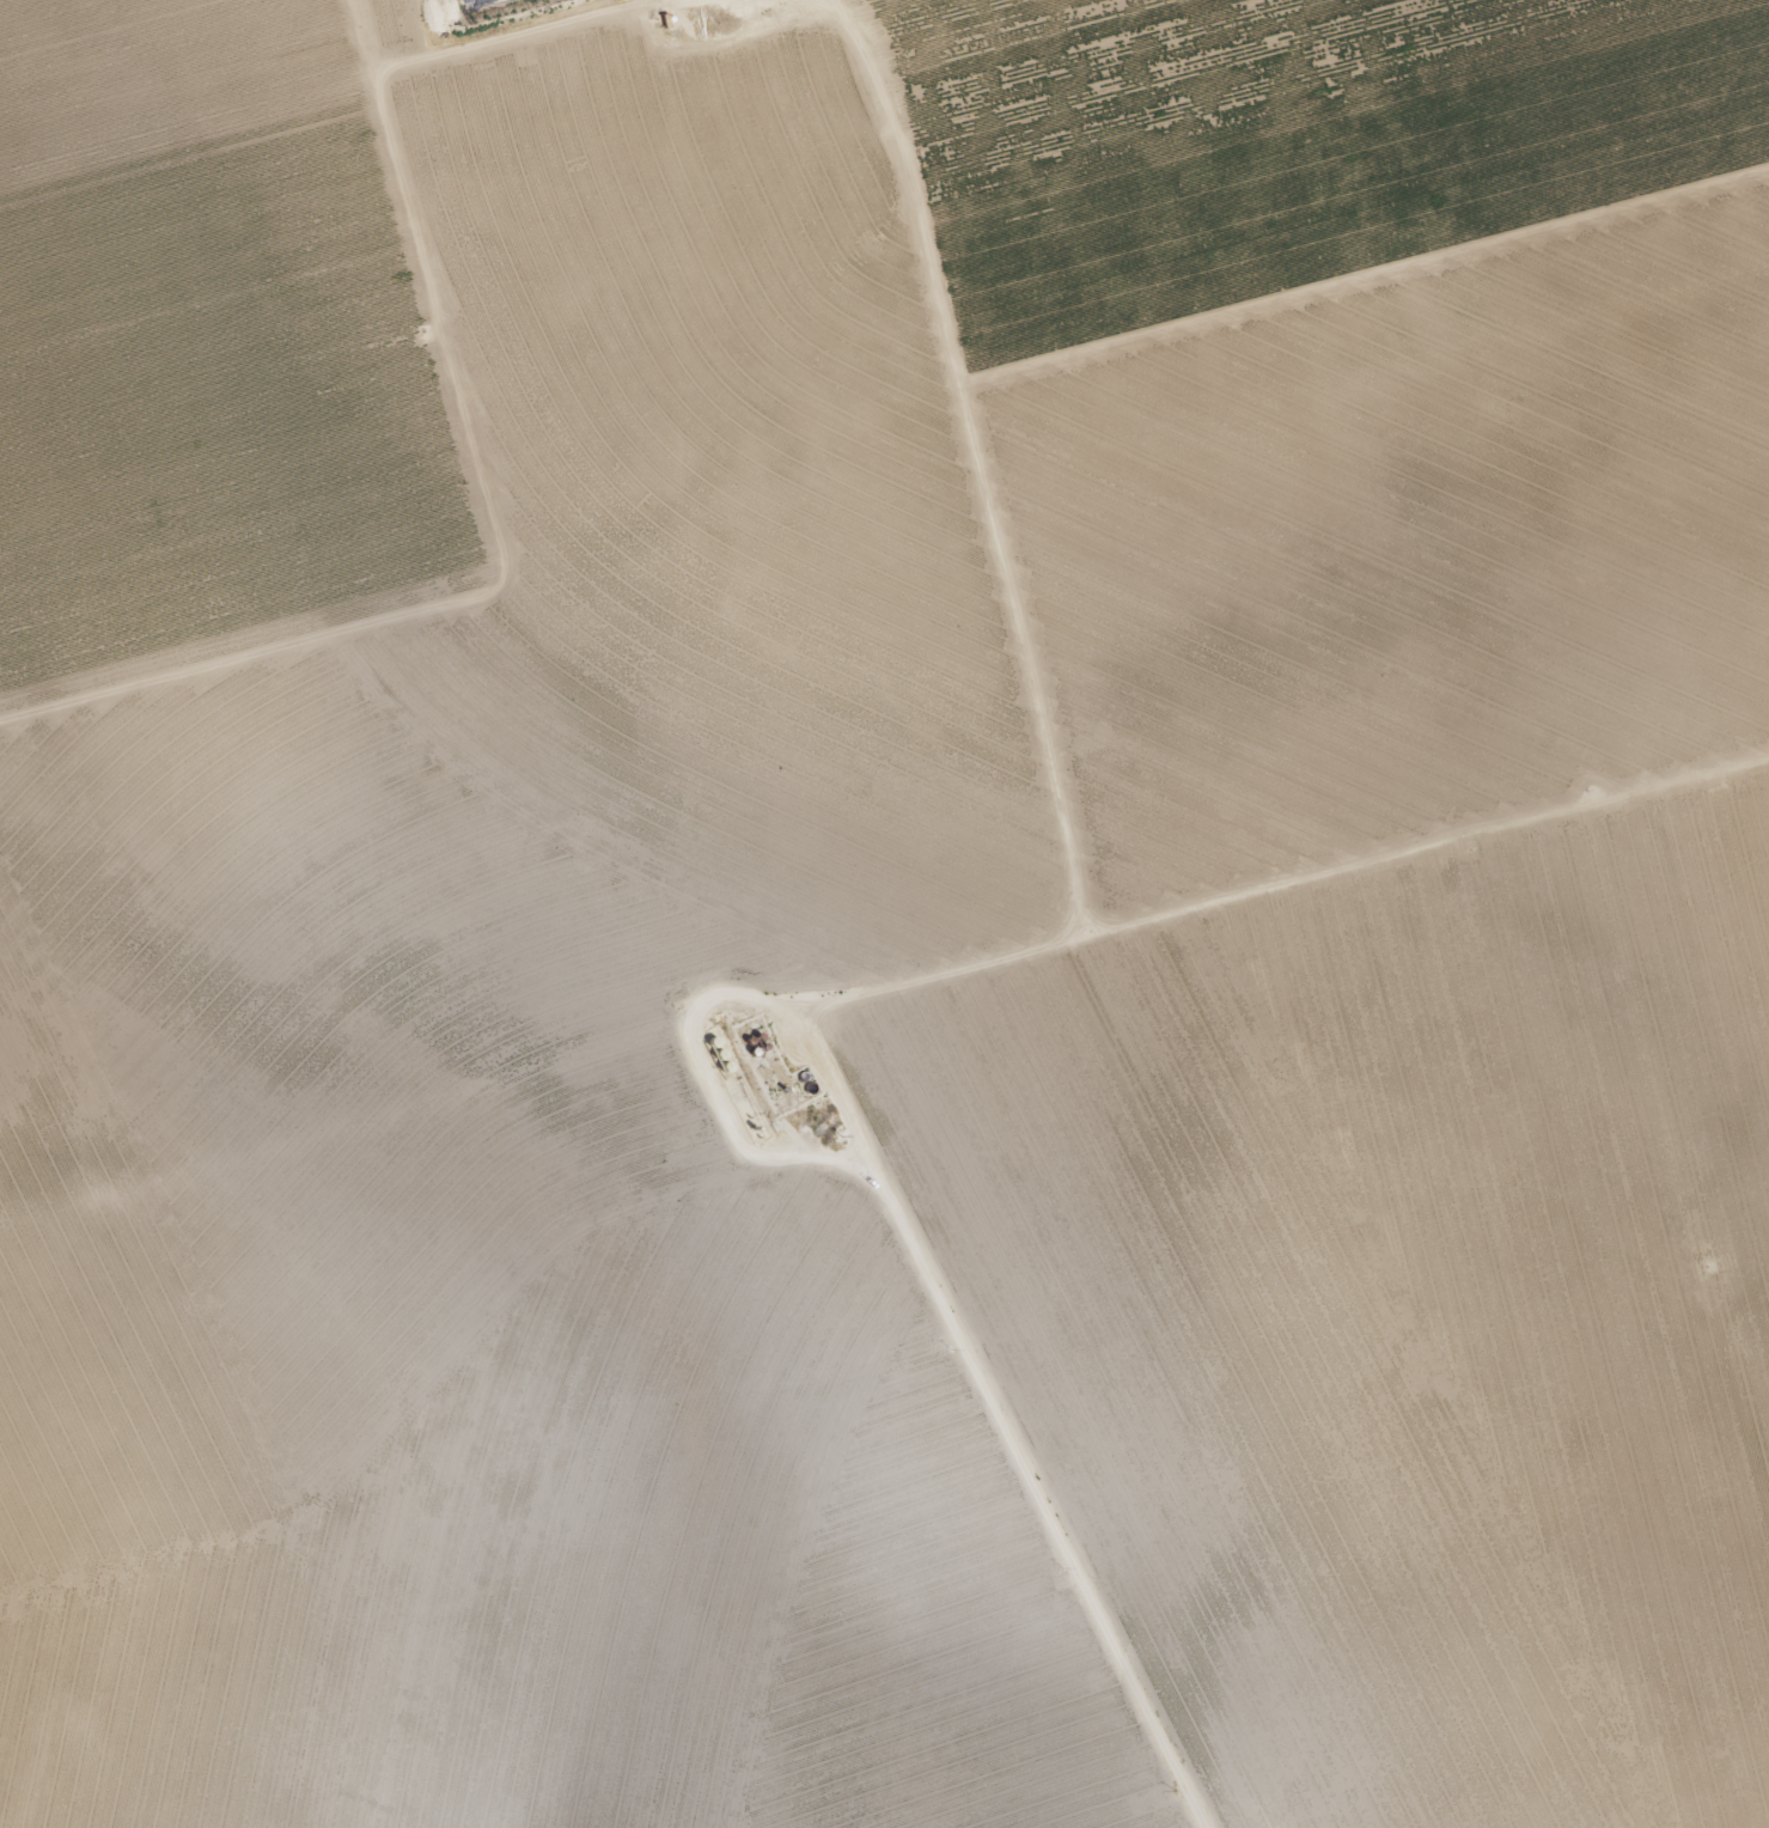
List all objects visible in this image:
road: (872, 1028)

